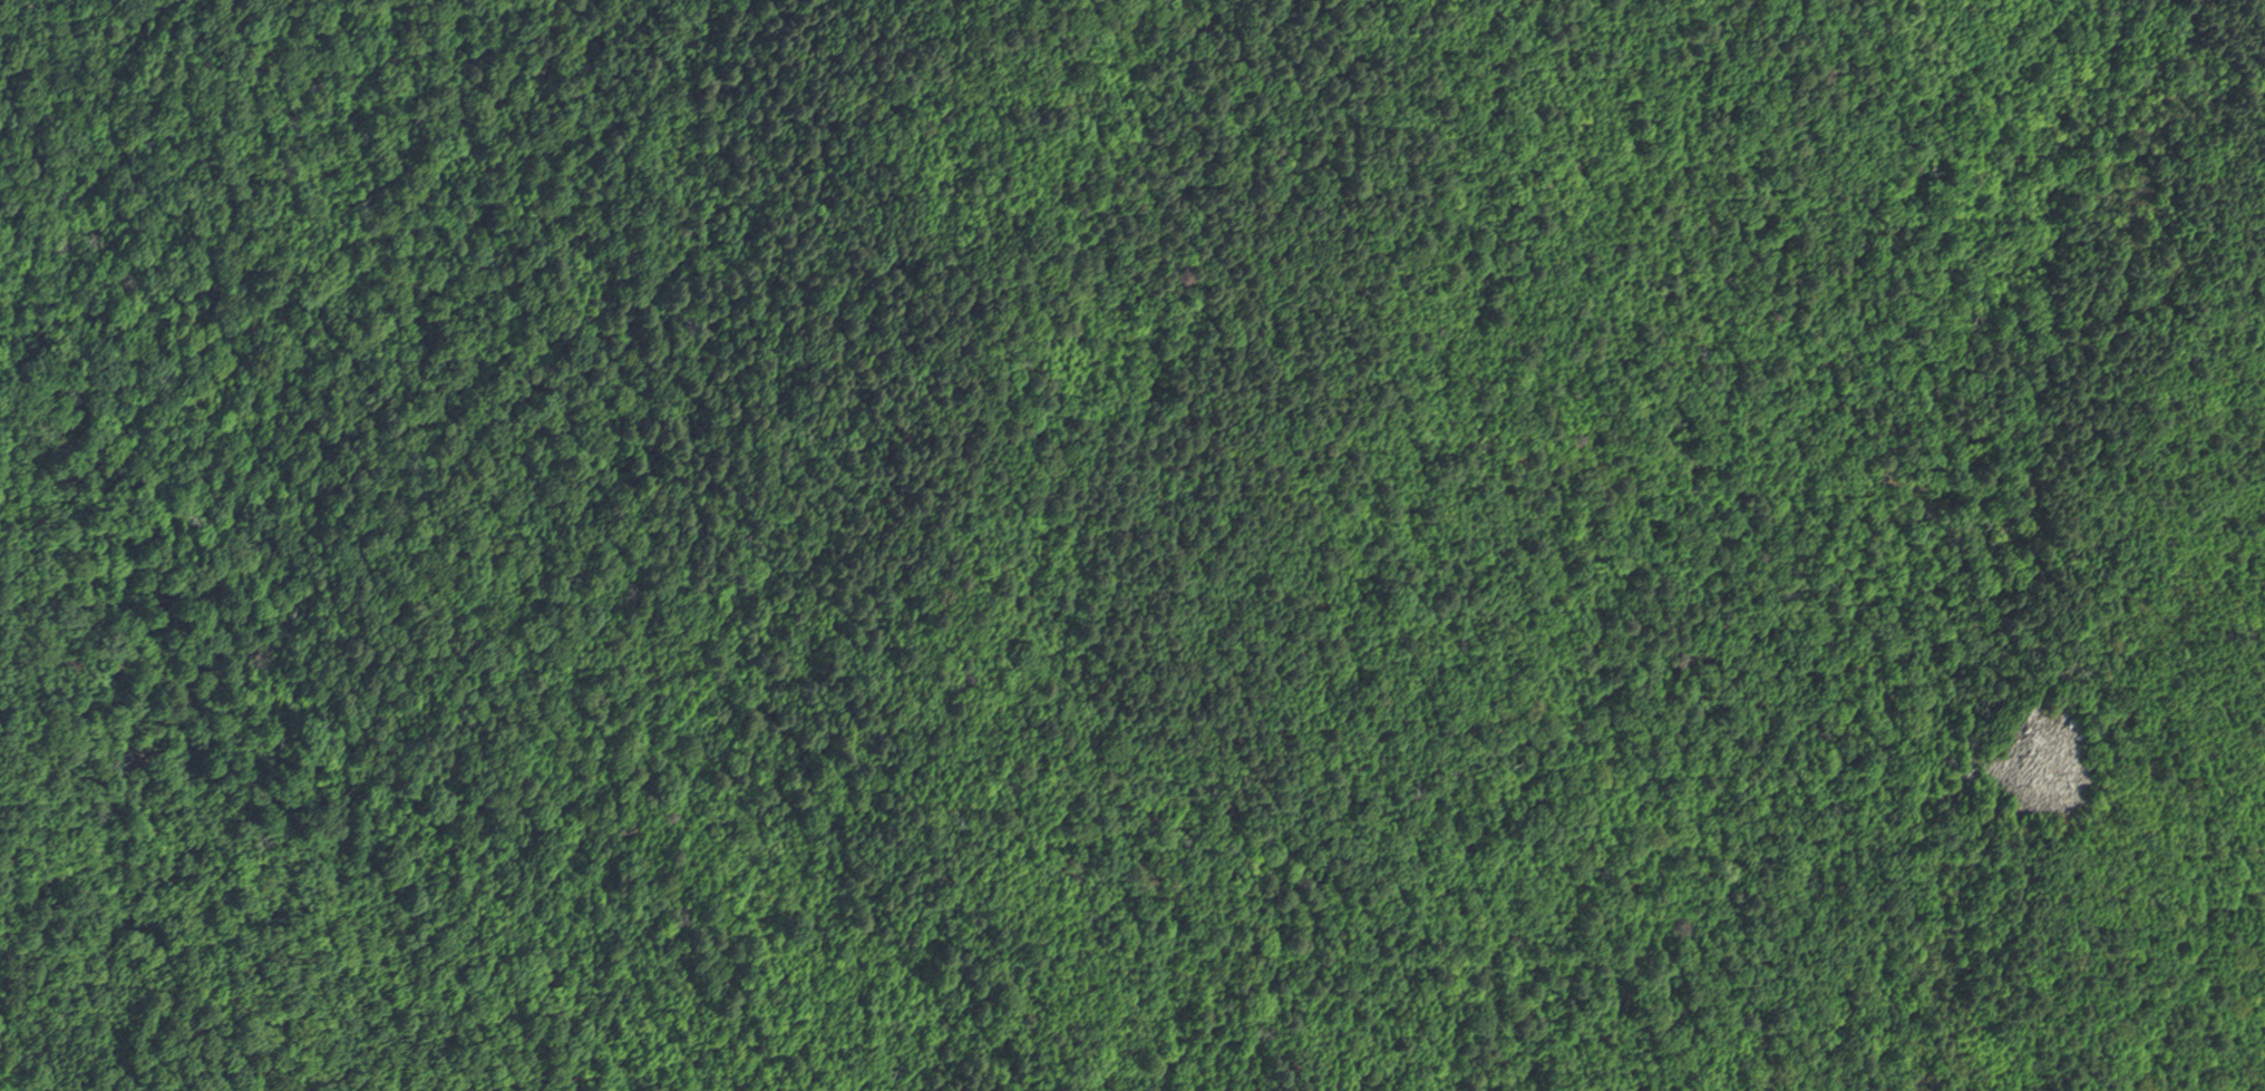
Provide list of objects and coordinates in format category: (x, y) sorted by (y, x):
road: (1017, 586)

